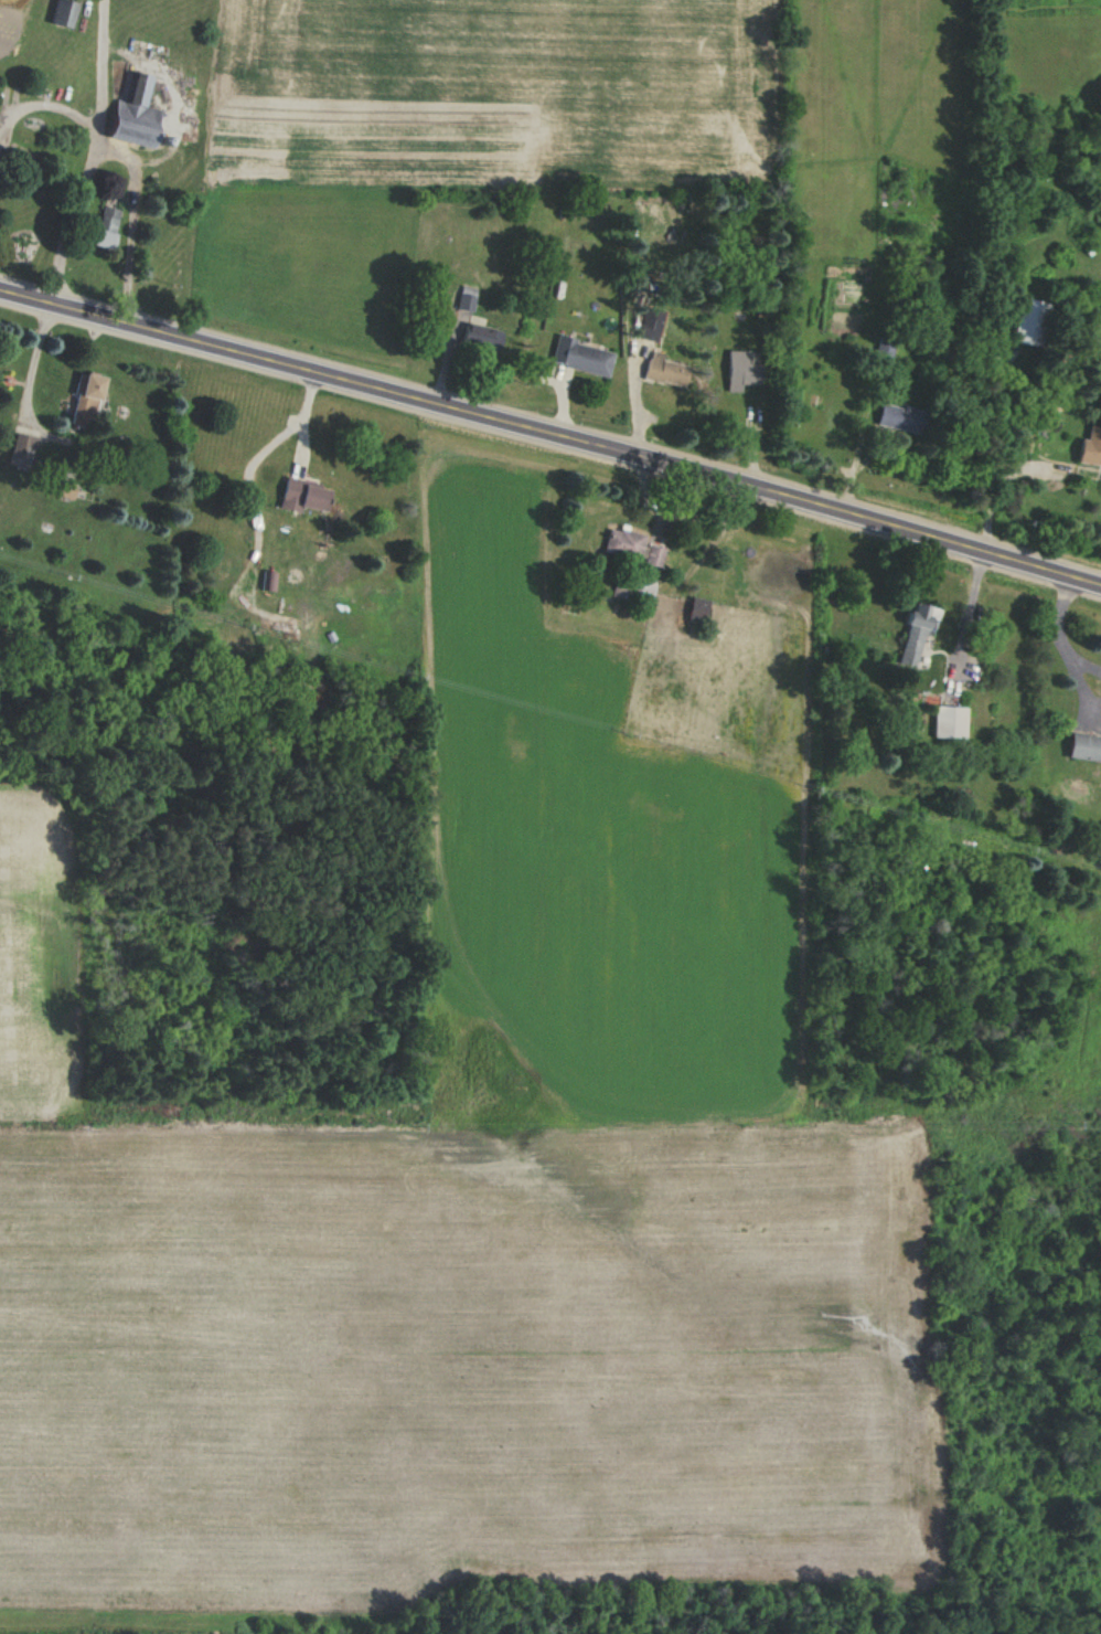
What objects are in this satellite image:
building: (62, 13)
road: (44, 103)
building: (135, 114)
road: (90, 155)
road: (128, 224)
building: (104, 226)
building: (464, 298)
building: (650, 323)
building: (480, 337)
building: (885, 348)
building: (579, 356)
road: (32, 365)
building: (664, 370)
building: (740, 370)
building: (85, 399)
building: (900, 417)
road: (552, 435)
building: (1090, 447)
building: (22, 448)
road: (997, 489)
building: (303, 496)
building: (631, 547)
building: (632, 591)
road: (969, 607)
building: (697, 609)
road: (1061, 635)
building: (912, 636)
building: (948, 722)
building: (1083, 746)
crop: (19, 970)
crop: (445, 1354)

